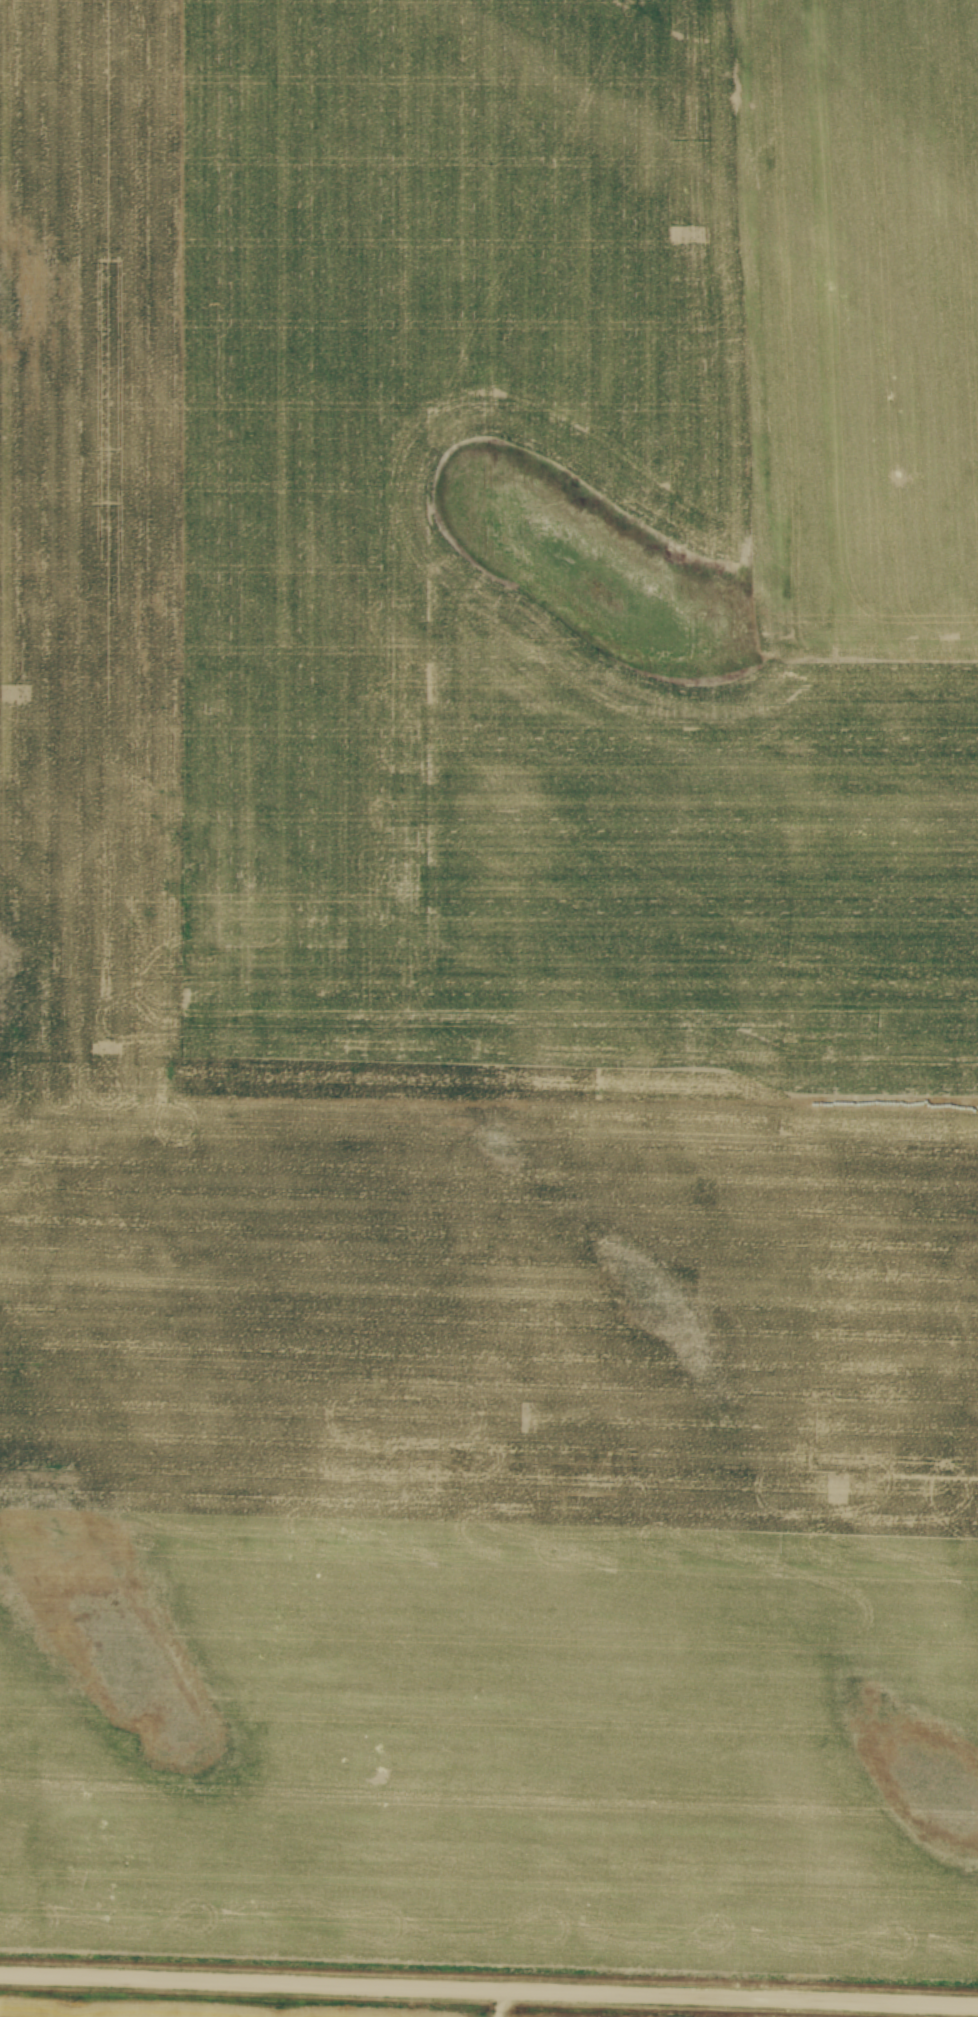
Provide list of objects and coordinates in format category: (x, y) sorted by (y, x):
road: (489, 1990)

